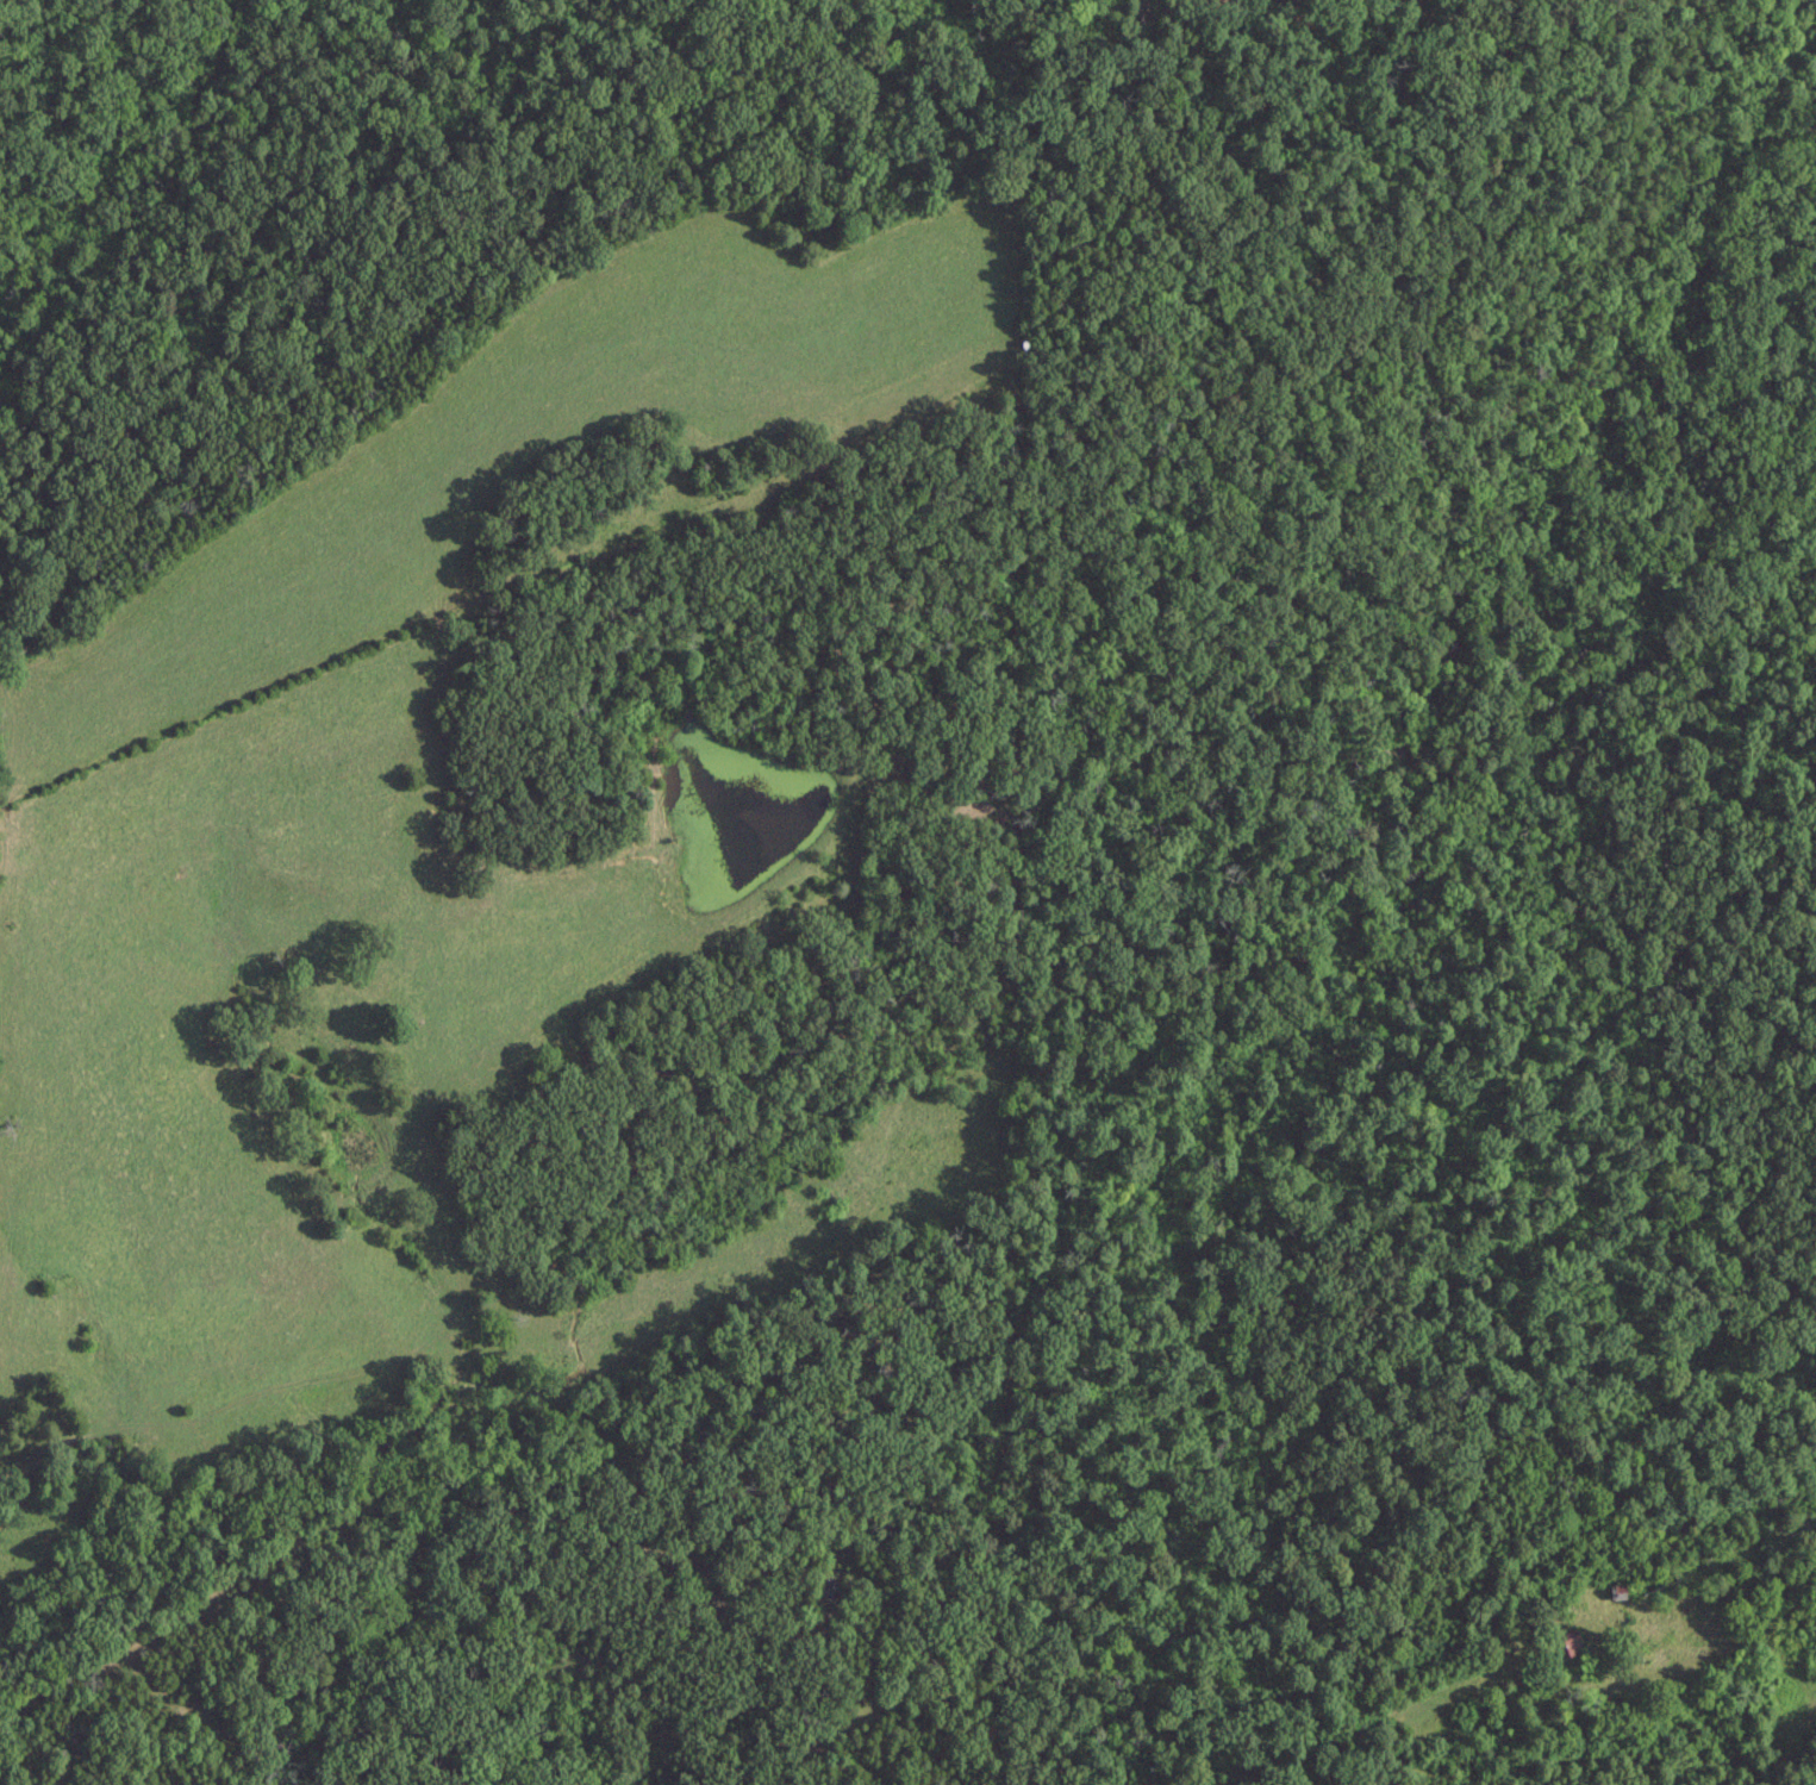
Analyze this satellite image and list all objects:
road: (391, 1465)
road: (1749, 1639)
building: (1570, 1643)

